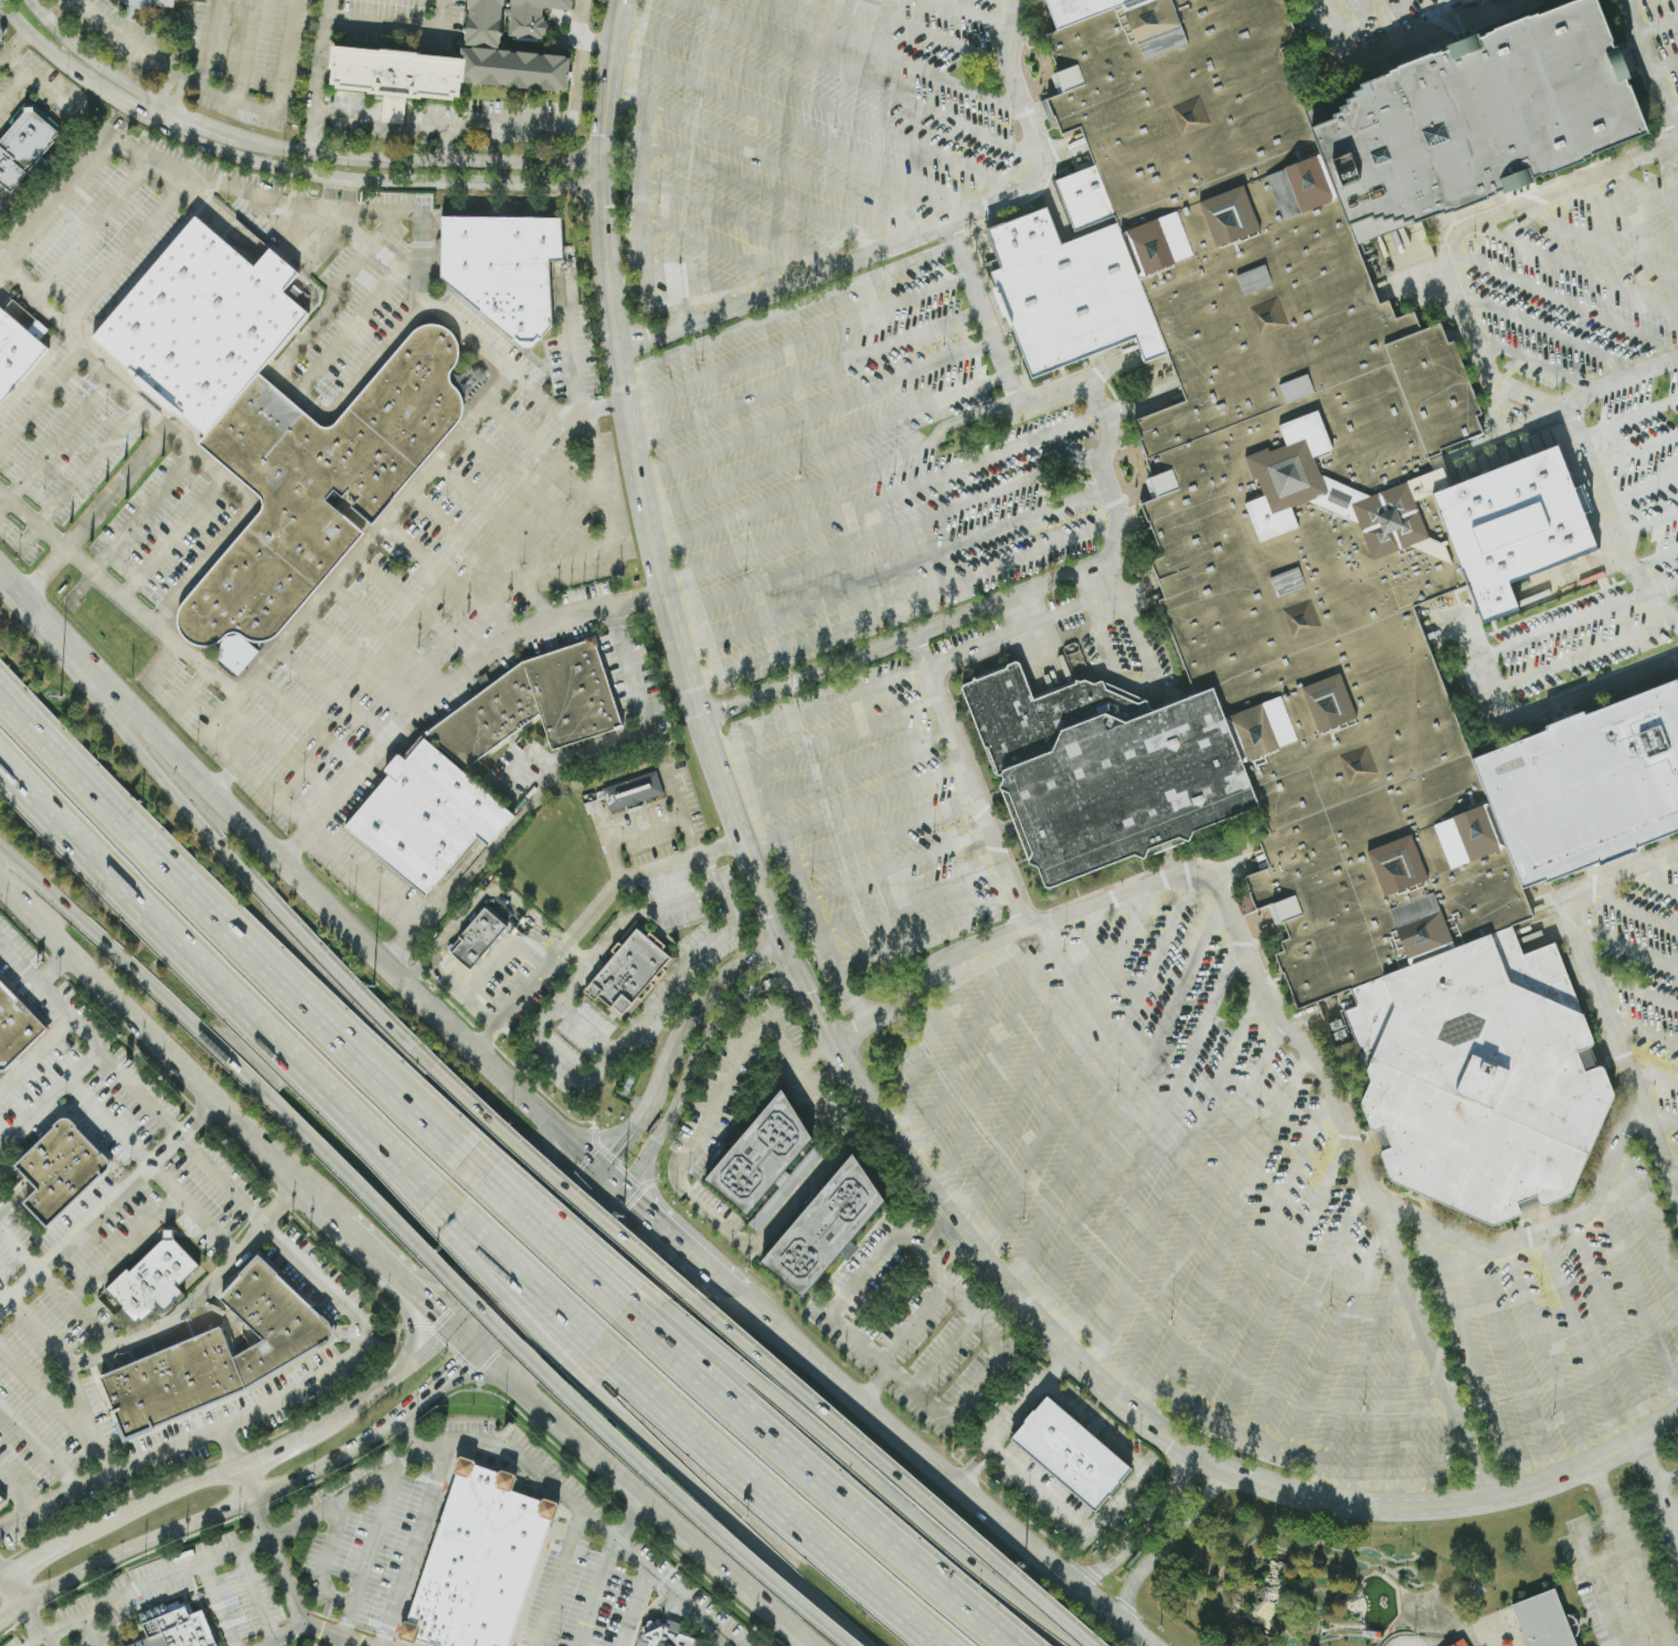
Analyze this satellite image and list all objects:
building: (200, 0)
road: (0, 2)
building: (149, 2)
road: (36, 4)
road: (1485, 7)
road: (1327, 8)
road: (330, 9)
building: (1069, 11)
road: (979, 15)
road: (1442, 15)
road: (329, 23)
road: (580, 23)
road: (1657, 24)
road: (1395, 25)
road: (1355, 28)
road: (932, 31)
road: (1402, 44)
road: (214, 45)
road: (15, 50)
road: (51, 51)
road: (245, 51)
building: (496, 51)
road: (898, 57)
road: (104, 66)
road: (1665, 66)
road: (1650, 70)
building: (397, 71)
road: (31, 72)
road: (861, 81)
road: (227, 98)
road: (813, 98)
road: (177, 100)
road: (1672, 108)
road: (136, 111)
building: (1468, 117)
road: (495, 123)
road: (790, 123)
building: (23, 145)
road: (774, 159)
road: (1663, 160)
road: (385, 172)
road: (65, 185)
road: (1642, 185)
road: (761, 190)
road: (1619, 212)
road: (641, 213)
road: (747, 222)
road: (94, 224)
road: (419, 225)
road: (364, 240)
road: (1597, 240)
road: (920, 244)
road: (725, 252)
road: (118, 259)
building: (503, 267)
road: (1575, 267)
road: (702, 278)
road: (38, 297)
road: (662, 301)
road: (1567, 301)
road: (1552, 333)
road: (797, 342)
building: (15, 355)
road: (575, 362)
road: (1538, 362)
road: (806, 373)
road: (1622, 380)
road: (301, 385)
road: (1525, 392)
road: (1098, 403)
road: (816, 408)
road: (594, 412)
road: (1628, 416)
building: (274, 422)
road: (182, 437)
road: (55, 443)
road: (826, 443)
road: (1635, 450)
road: (548, 453)
road: (1591, 467)
road: (77, 475)
road: (838, 477)
road: (1642, 487)
road: (539, 493)
road: (881, 498)
road: (95, 510)
road: (142, 511)
road: (501, 514)
building: (1265, 517)
road: (1647, 522)
road: (171, 535)
road: (884, 535)
road: (471, 542)
road: (604, 557)
road: (1655, 560)
road: (893, 570)
road: (450, 578)
road: (1663, 594)
road: (904, 601)
road: (419, 608)
road: (1659, 609)
road: (1024, 628)
road: (390, 635)
road: (903, 636)
road: (274, 658)
road: (359, 663)
road: (160, 665)
road: (629, 669)
road: (445, 684)
road: (333, 690)
road: (189, 692)
road: (819, 708)
road: (308, 722)
road: (247, 739)
road: (830, 739)
road: (293, 763)
building: (426, 765)
road: (842, 772)
road: (973, 780)
building: (1587, 785)
road: (269, 792)
building: (631, 792)
road: (854, 805)
road: (641, 828)
road: (506, 831)
road: (886, 831)
road: (687, 836)
road: (605, 843)
road: (787, 850)
road: (1675, 851)
road: (900, 864)
road: (247, 871)
road: (362, 877)
road: (1653, 881)
road: (307, 885)
road: (913, 895)
road: (474, 901)
road: (1633, 906)
road: (150, 907)
road: (227, 926)
road: (927, 931)
road: (570, 935)
building: (476, 938)
road: (505, 945)
road: (830, 946)
road: (1624, 948)
road: (57, 971)
building: (627, 971)
road: (1593, 979)
road: (1258, 981)
road: (755, 986)
road: (661, 990)
road: (459, 992)
road: (1634, 992)
building: (14, 1028)
road: (838, 1030)
road: (1644, 1032)
road: (210, 1042)
road: (675, 1042)
road: (962, 1048)
road: (35, 1053)
road: (169, 1053)
road: (999, 1058)
road: (1032, 1064)
road: (1068, 1071)
road: (1653, 1073)
road: (1104, 1077)
building: (1478, 1081)
road: (49, 1097)
road: (676, 1106)
road: (1128, 1106)
road: (1664, 1119)
road: (368, 1123)
road: (360, 1135)
road: (185, 1140)
road: (1154, 1143)
road: (691, 1151)
traffic signals: (613, 1153)
building: (758, 1156)
road: (1674, 1164)
road: (150, 1167)
building: (59, 1170)
road: (1176, 1177)
road: (106, 1203)
traffic signals: (631, 1204)
road: (282, 1206)
road: (583, 1206)
road: (634, 1207)
road: (1199, 1208)
traffic signals: (605, 1210)
road: (505, 1219)
road: (552, 1220)
road: (1647, 1222)
building: (824, 1229)
road: (1229, 1229)
road: (543, 1231)
road: (1544, 1231)
road: (1260, 1242)
road: (124, 1249)
road: (523, 1249)
road: (376, 1257)
road: (693, 1259)
road: (518, 1264)
road: (548, 1271)
road: (1286, 1273)
building: (152, 1279)
road: (55, 1287)
road: (6, 1288)
road: (495, 1291)
road: (1637, 1291)
road: (562, 1292)
road: (1311, 1303)
road: (429, 1308)
traffic signals: (466, 1310)
road: (484, 1314)
traffic signals: (439, 1317)
road: (911, 1320)
building: (269, 1324)
road: (1614, 1324)
road: (418, 1325)
road: (1338, 1329)
road: (38, 1332)
road: (442, 1336)
road: (127, 1339)
road: (1583, 1342)
road: (943, 1351)
road: (1551, 1355)
road: (1474, 1359)
road: (1515, 1360)
traffic signals: (460, 1364)
road: (456, 1367)
road: (900, 1380)
building: (171, 1384)
road: (1353, 1384)
road: (875, 1387)
road: (47, 1399)
road: (1378, 1412)
road: (1017, 1419)
road: (1238, 1429)
road: (408, 1434)
road: (1408, 1436)
road: (180, 1441)
road: (38, 1446)
road: (227, 1447)
building: (1070, 1454)
road: (872, 1456)
road: (1436, 1459)
road: (1653, 1463)
road: (861, 1468)
road: (223, 1473)
road: (943, 1473)
road: (820, 1478)
road: (245, 1484)
road: (626, 1486)
road: (1610, 1488)
road: (17, 1490)
road: (778, 1493)
road: (1667, 1495)
road: (1204, 1496)
building: (0, 1500)
road: (333, 1502)
road: (1117, 1502)
road: (720, 1505)
road: (222, 1510)
road: (697, 1517)
road: (628, 1519)
road: (1137, 1536)
road: (415, 1542)
road: (371, 1552)
road: (323, 1559)
building: (478, 1560)
road: (1593, 1571)
road: (1138, 1573)
road: (1, 1574)
road: (559, 1578)
road: (1646, 1579)
road: (12, 1592)
road: (596, 1592)
road: (677, 1592)
road: (256, 1593)
road: (287, 1593)
road: (219, 1603)
road: (633, 1606)
road: (1451, 1618)
building: (1542, 1621)
road: (35, 1626)
building: (174, 1626)
road: (91, 1631)
building: (663, 1634)
road: (282, 1635)
road: (1477, 1635)
road: (721, 1639)
building: (1458, 1644)

